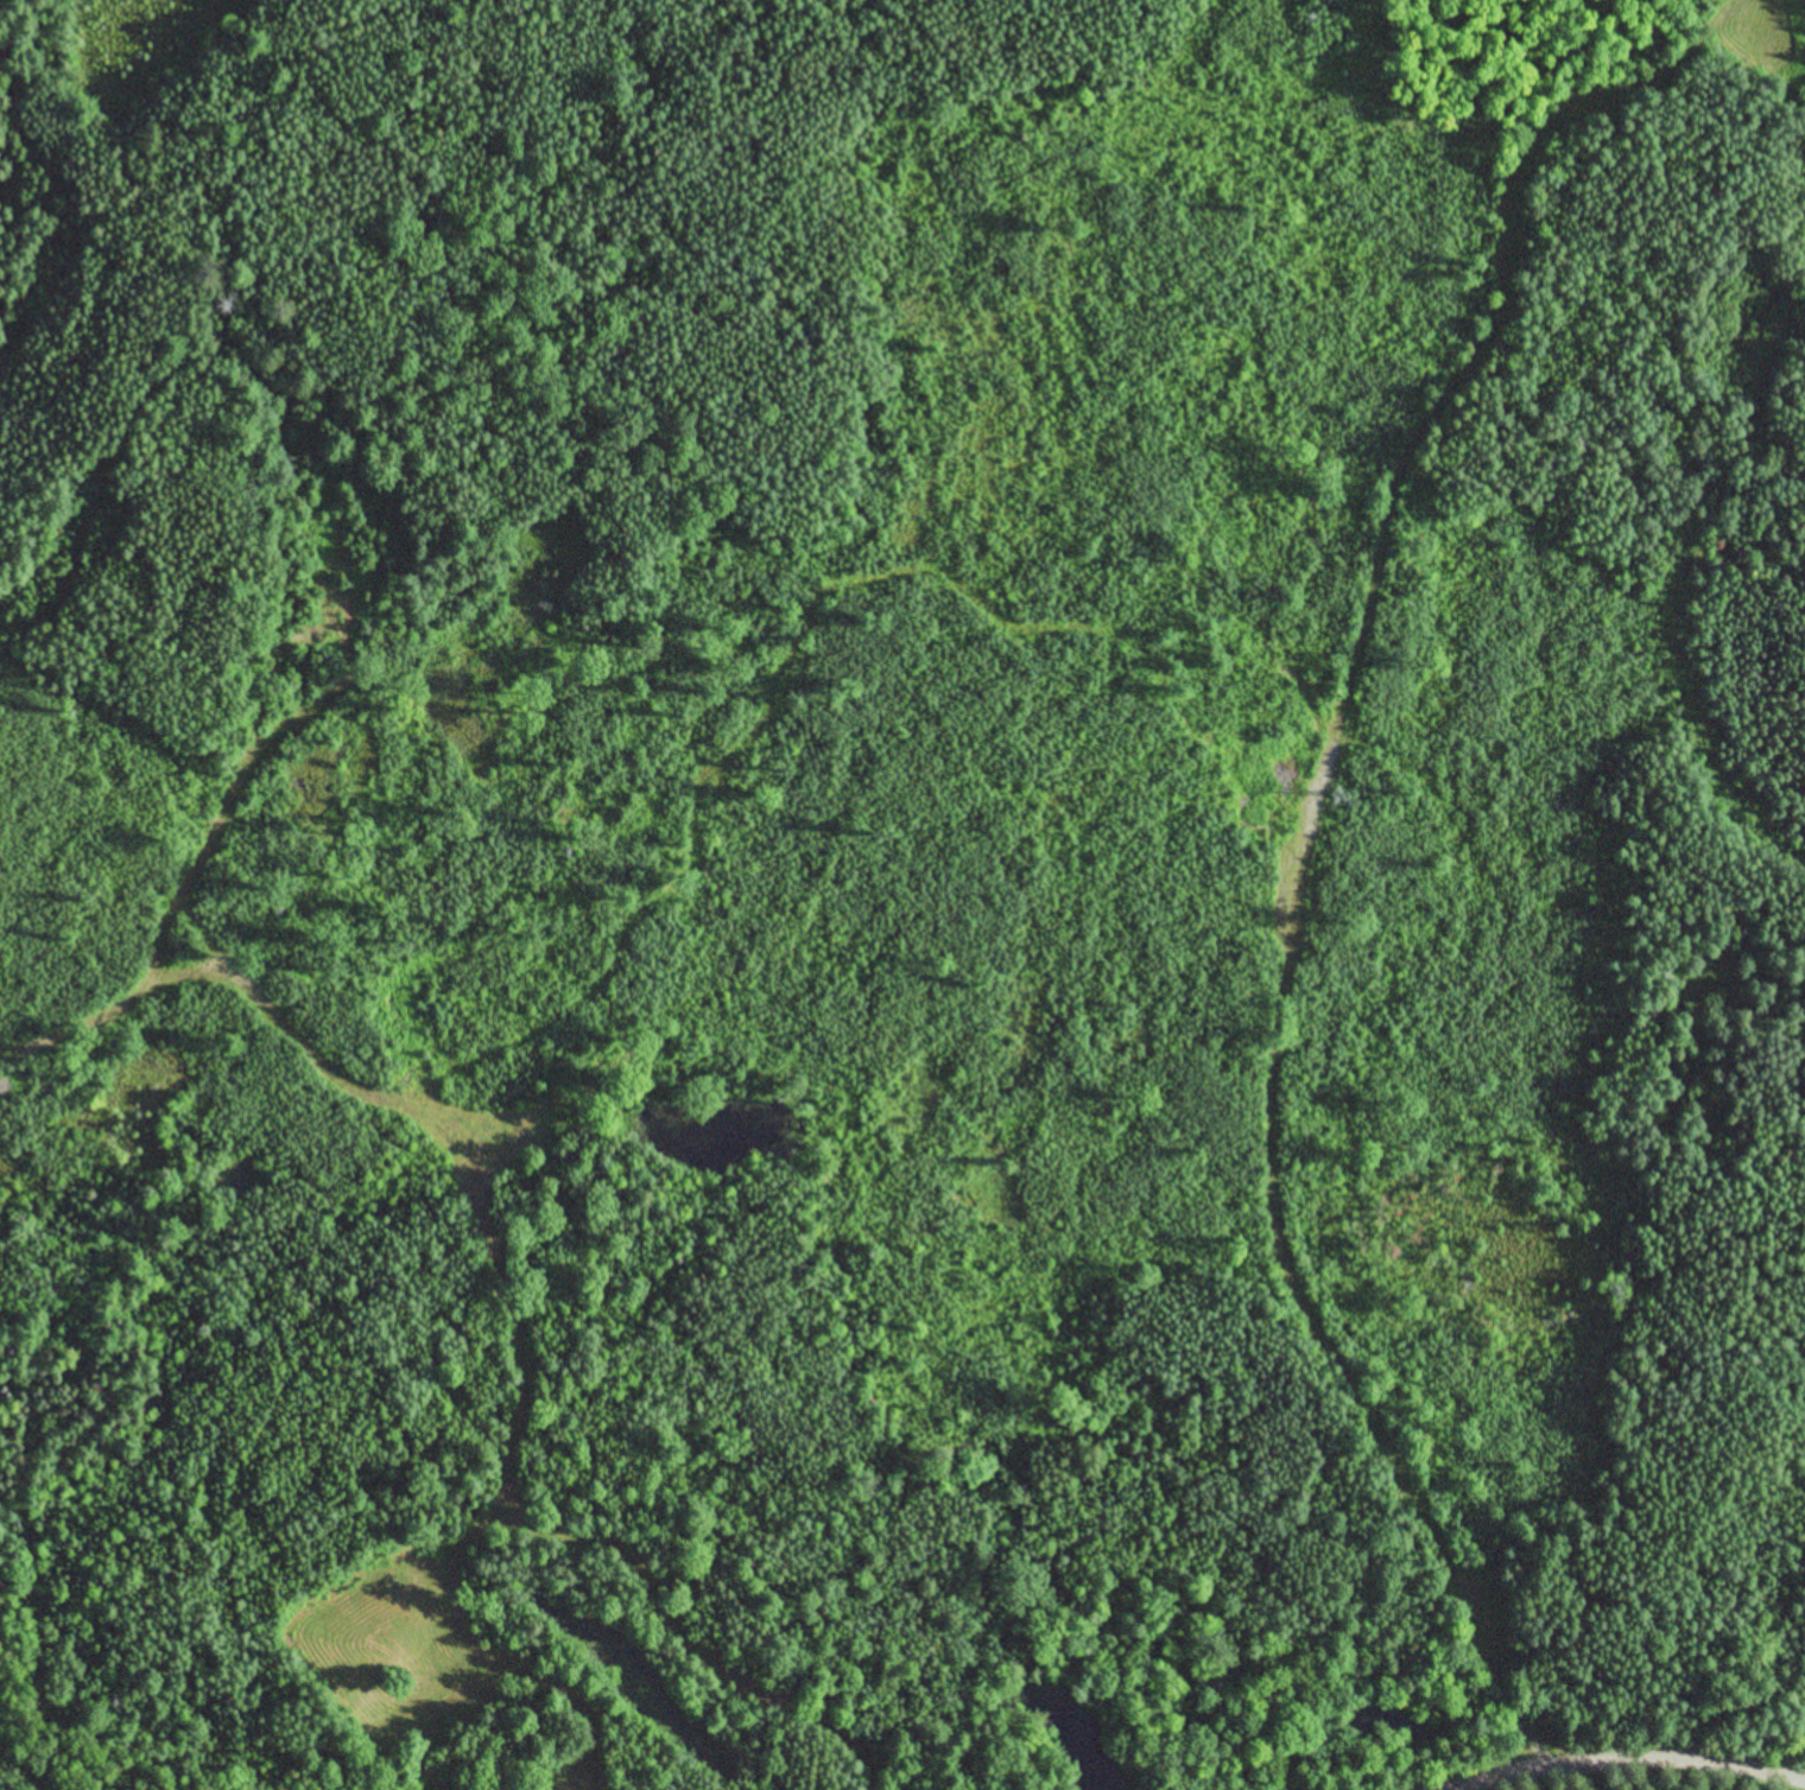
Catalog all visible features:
road: (1624, 1756)

